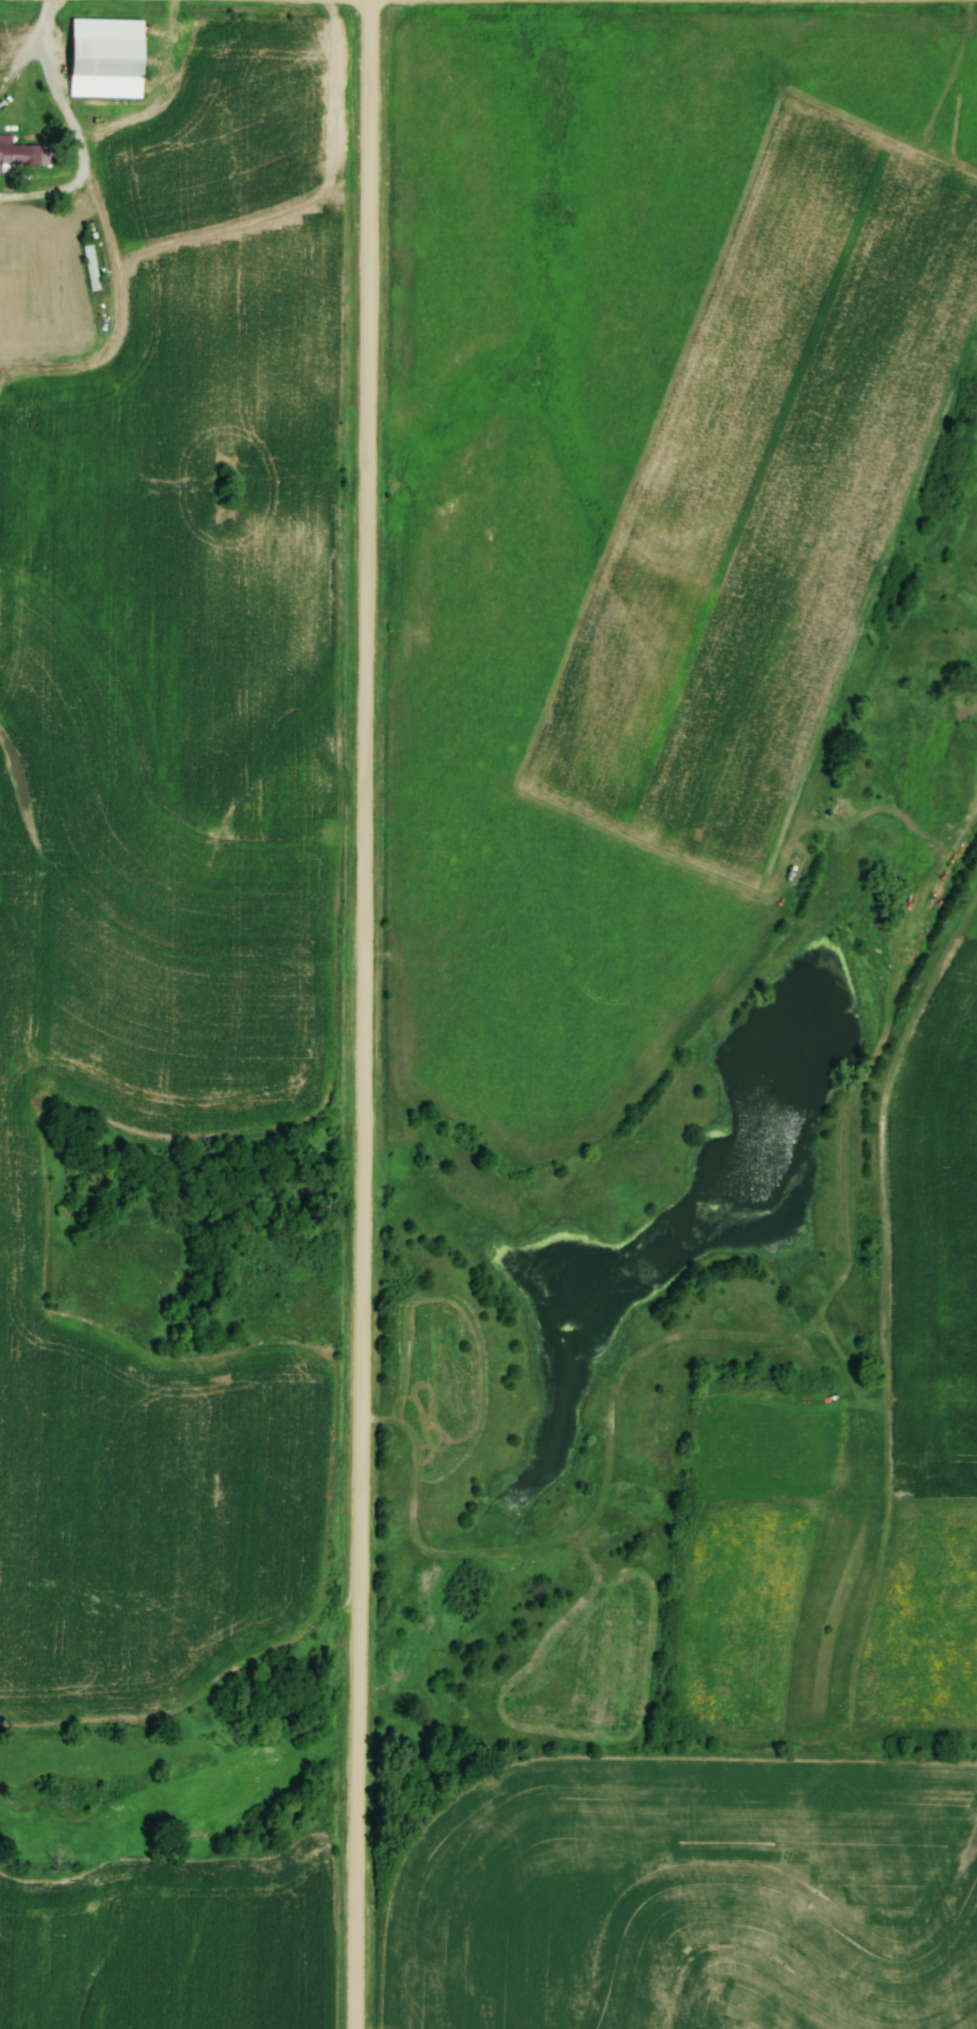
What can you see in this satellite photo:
road: (20, 53)
building: (111, 56)
road: (69, 126)
building: (22, 153)
building: (91, 258)
road: (361, 1014)

